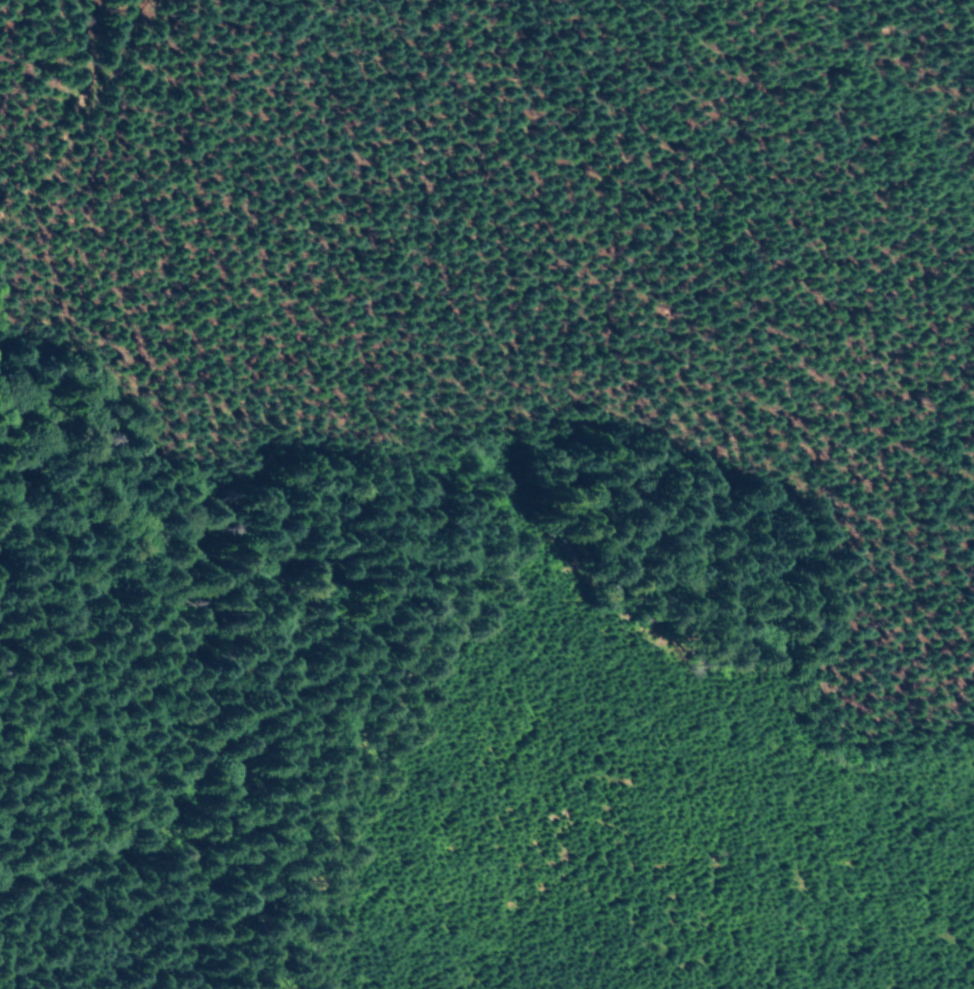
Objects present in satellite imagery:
road: (75, 109)

